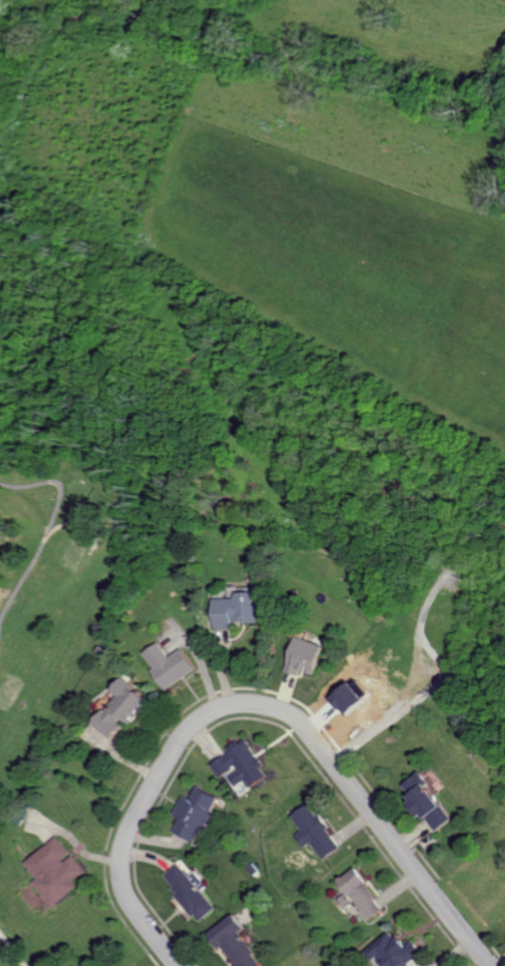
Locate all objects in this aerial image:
park: (57, 593)
building: (235, 610)
building: (305, 656)
building: (168, 665)
road: (262, 704)
building: (121, 709)
building: (239, 764)
building: (428, 803)
building: (194, 814)
building: (314, 831)
building: (55, 871)
building: (188, 893)
building: (358, 895)
building: (234, 943)
park: (12, 950)
building: (393, 951)

